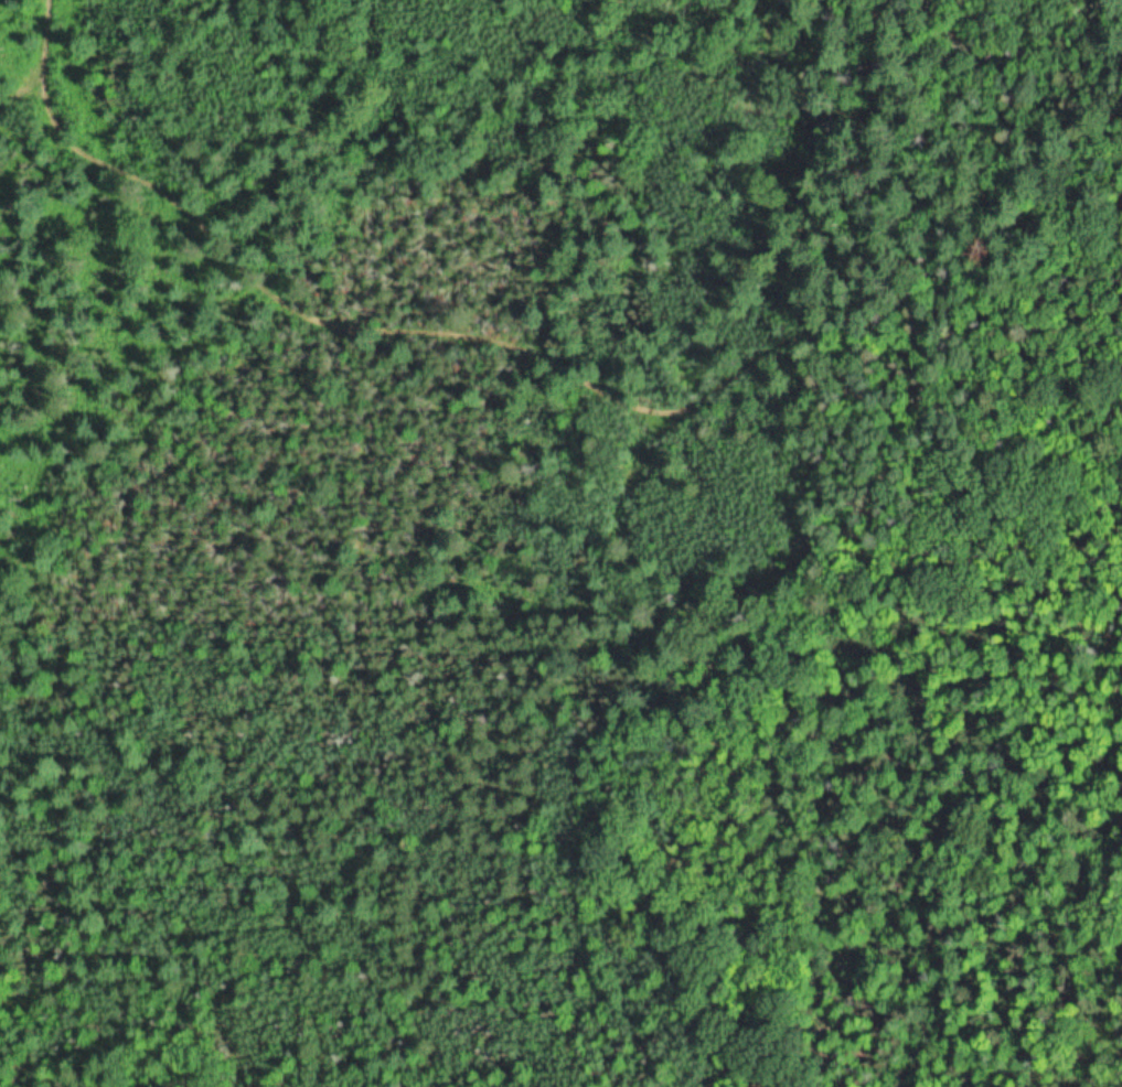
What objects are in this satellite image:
road: (405, 360)
road: (650, 676)

